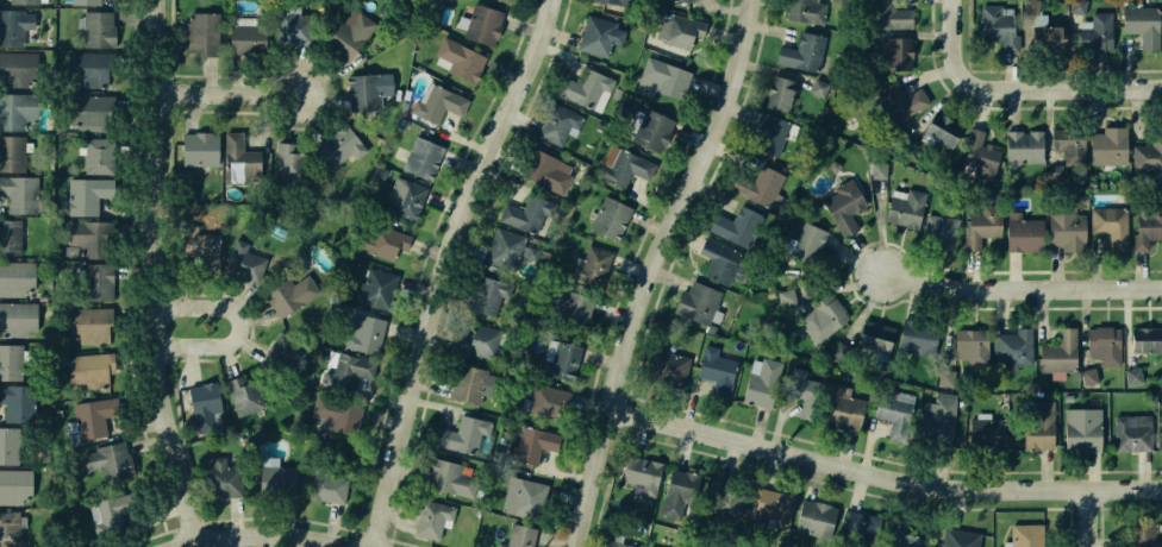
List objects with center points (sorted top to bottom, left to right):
building: (620, 0)
building: (679, 0)
building: (21, 1)
building: (88, 1)
building: (1031, 6)
building: (801, 11)
building: (1076, 11)
building: (888, 14)
building: (481, 24)
building: (13, 25)
building: (995, 25)
building: (1142, 26)
building: (98, 29)
building: (289, 29)
building: (1100, 29)
building: (676, 31)
building: (350, 32)
building: (202, 33)
building: (596, 33)
building: (246, 36)
building: (1050, 40)
building: (804, 51)
building: (897, 51)
building: (460, 58)
building: (13, 69)
road: (1029, 69)
building: (87, 70)
building: (660, 77)
road: (1020, 87)
building: (585, 88)
building: (362, 89)
building: (819, 89)
road: (245, 93)
building: (776, 94)
building: (899, 100)
building: (436, 105)
road: (1004, 107)
building: (89, 111)
building: (12, 112)
building: (558, 121)
building: (938, 128)
building: (650, 131)
building: (767, 133)
building: (1064, 138)
building: (906, 140)
building: (345, 143)
building: (198, 145)
building: (1022, 145)
building: (1106, 146)
building: (976, 152)
building: (1148, 152)
building: (13, 155)
building: (99, 155)
building: (239, 156)
building: (289, 158)
building: (621, 165)
building: (876, 169)
building: (545, 172)
building: (1055, 174)
building: (413, 182)
building: (754, 184)
building: (18, 194)
building: (82, 196)
road: (700, 199)
building: (904, 203)
building: (842, 206)
building: (526, 213)
building: (608, 218)
building: (942, 225)
building: (981, 225)
building: (1108, 225)
building: (1147, 225)
building: (727, 226)
building: (1064, 230)
building: (1022, 232)
building: (8, 234)
building: (86, 237)
building: (375, 239)
building: (504, 249)
building: (812, 249)
building: (208, 254)
building: (240, 260)
building: (717, 260)
road: (444, 265)
building: (593, 265)
road: (657, 269)
road: (848, 270)
road: (161, 272)
building: (17, 276)
building: (95, 281)
building: (376, 287)
road: (1020, 287)
building: (289, 294)
building: (488, 294)
building: (787, 297)
building: (564, 304)
building: (698, 304)
building: (17, 315)
building: (824, 316)
building: (87, 323)
road: (235, 327)
building: (362, 334)
building: (918, 335)
building: (874, 337)
building: (1143, 339)
building: (480, 340)
building: (970, 341)
building: (1104, 344)
building: (1011, 351)
building: (286, 352)
building: (1057, 352)
building: (558, 358)
building: (10, 361)
building: (668, 366)
building: (87, 371)
building: (718, 371)
building: (342, 372)
building: (1088, 376)
building: (1133, 376)
building: (943, 377)
building: (467, 383)
building: (760, 383)
building: (245, 392)
building: (804, 392)
building: (545, 397)
building: (15, 401)
building: (894, 405)
building: (839, 407)
building: (201, 408)
building: (325, 409)
building: (88, 419)
building: (937, 421)
building: (1037, 426)
building: (1080, 428)
building: (983, 430)
building: (1131, 430)
building: (463, 434)
building: (7, 445)
building: (531, 445)
building: (108, 459)
road: (887, 460)
building: (356, 464)
building: (639, 471)
road: (886, 474)
building: (443, 476)
building: (273, 478)
building: (219, 479)
building: (679, 483)
building: (14, 485)
building: (327, 486)
building: (721, 493)
building: (527, 498)
building: (770, 505)
building: (110, 508)
building: (812, 517)
road: (1087, 517)
building: (430, 518)
building: (854, 523)
building: (10, 529)
building: (1141, 534)
building: (1026, 535)
road: (279, 536)
building: (518, 536)
building: (905, 539)
building: (958, 540)
building: (49, 545)
road: (192, 545)
building: (605, 545)

